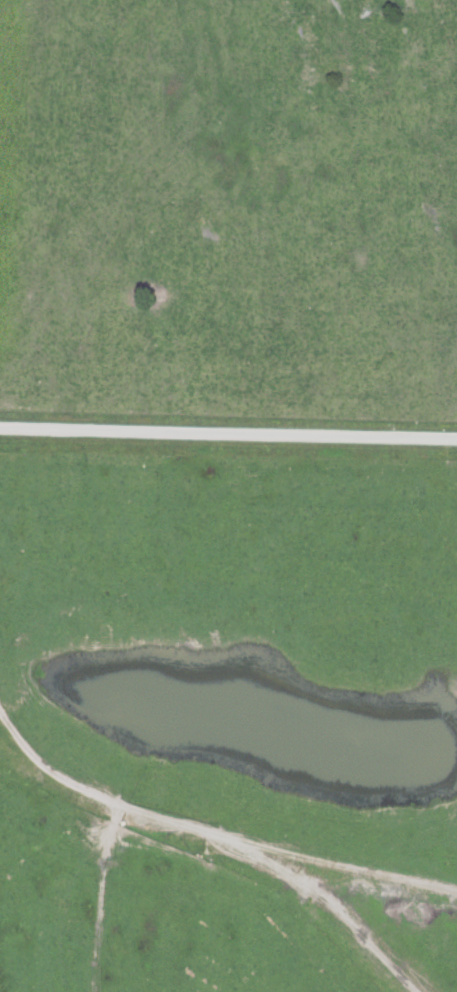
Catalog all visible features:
road: (228, 434)

